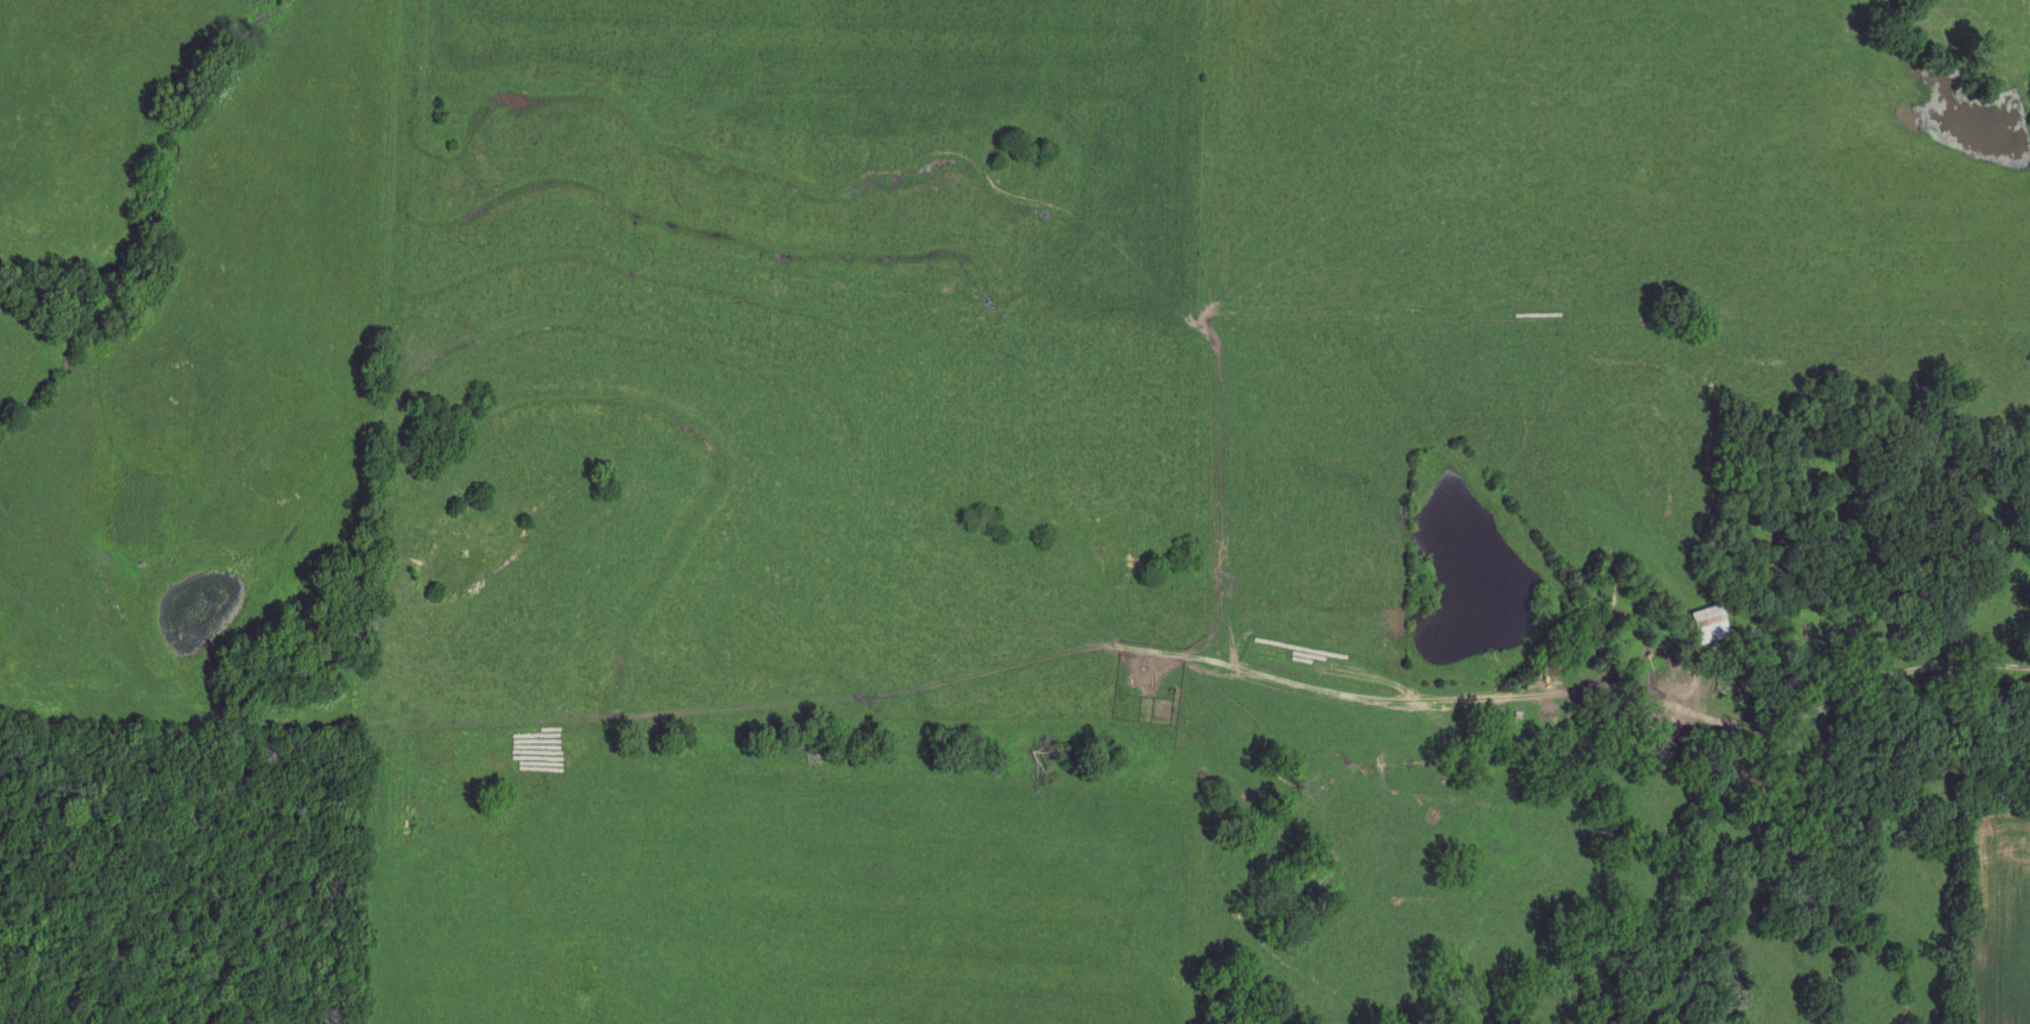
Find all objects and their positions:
building: (1705, 624)

